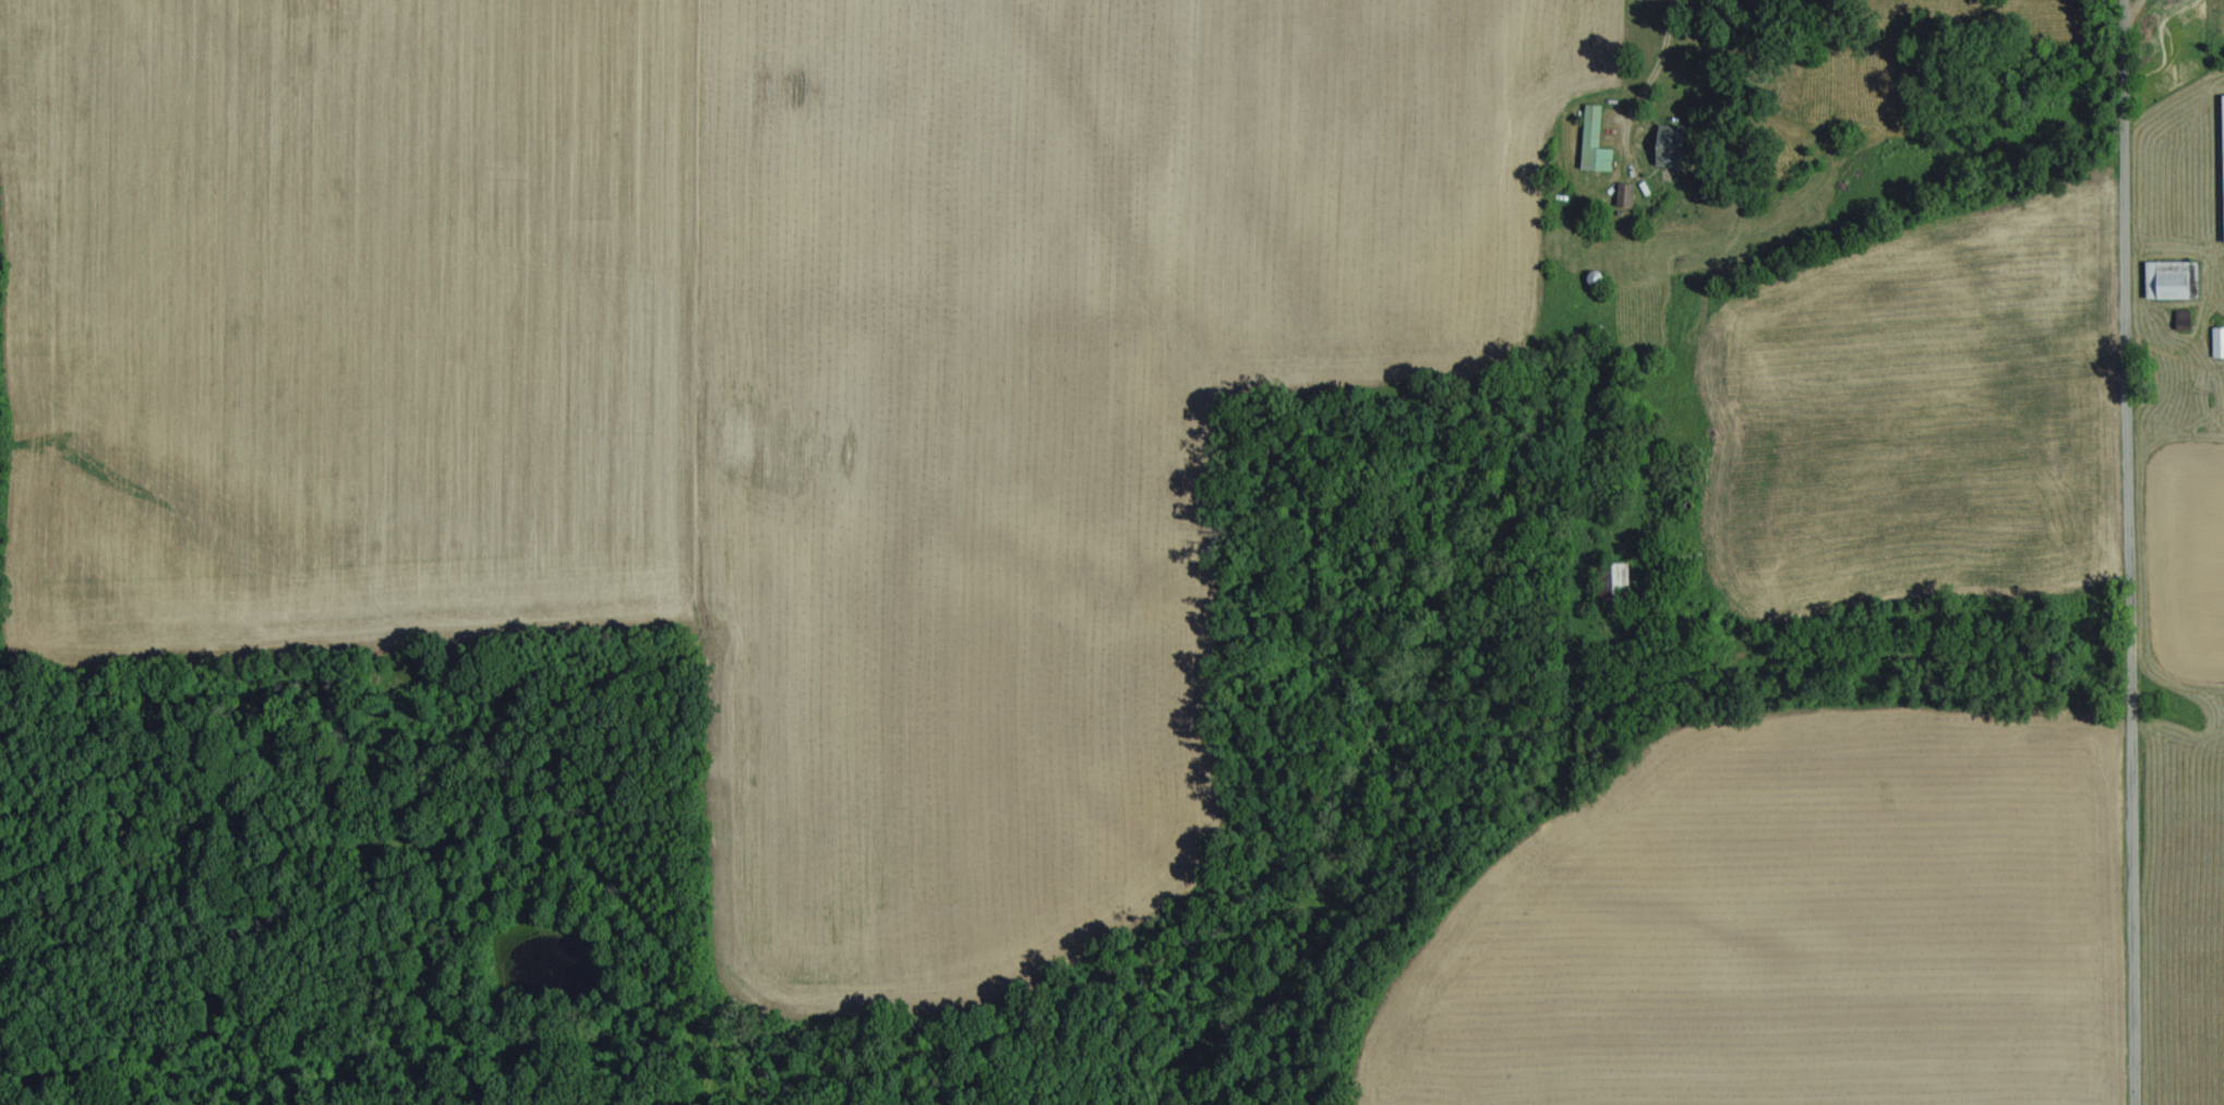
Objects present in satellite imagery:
road: (1668, 55)
building: (2223, 101)
building: (1595, 143)
building: (1672, 148)
building: (1624, 196)
building: (2167, 281)
building: (2217, 344)
road: (2132, 552)

